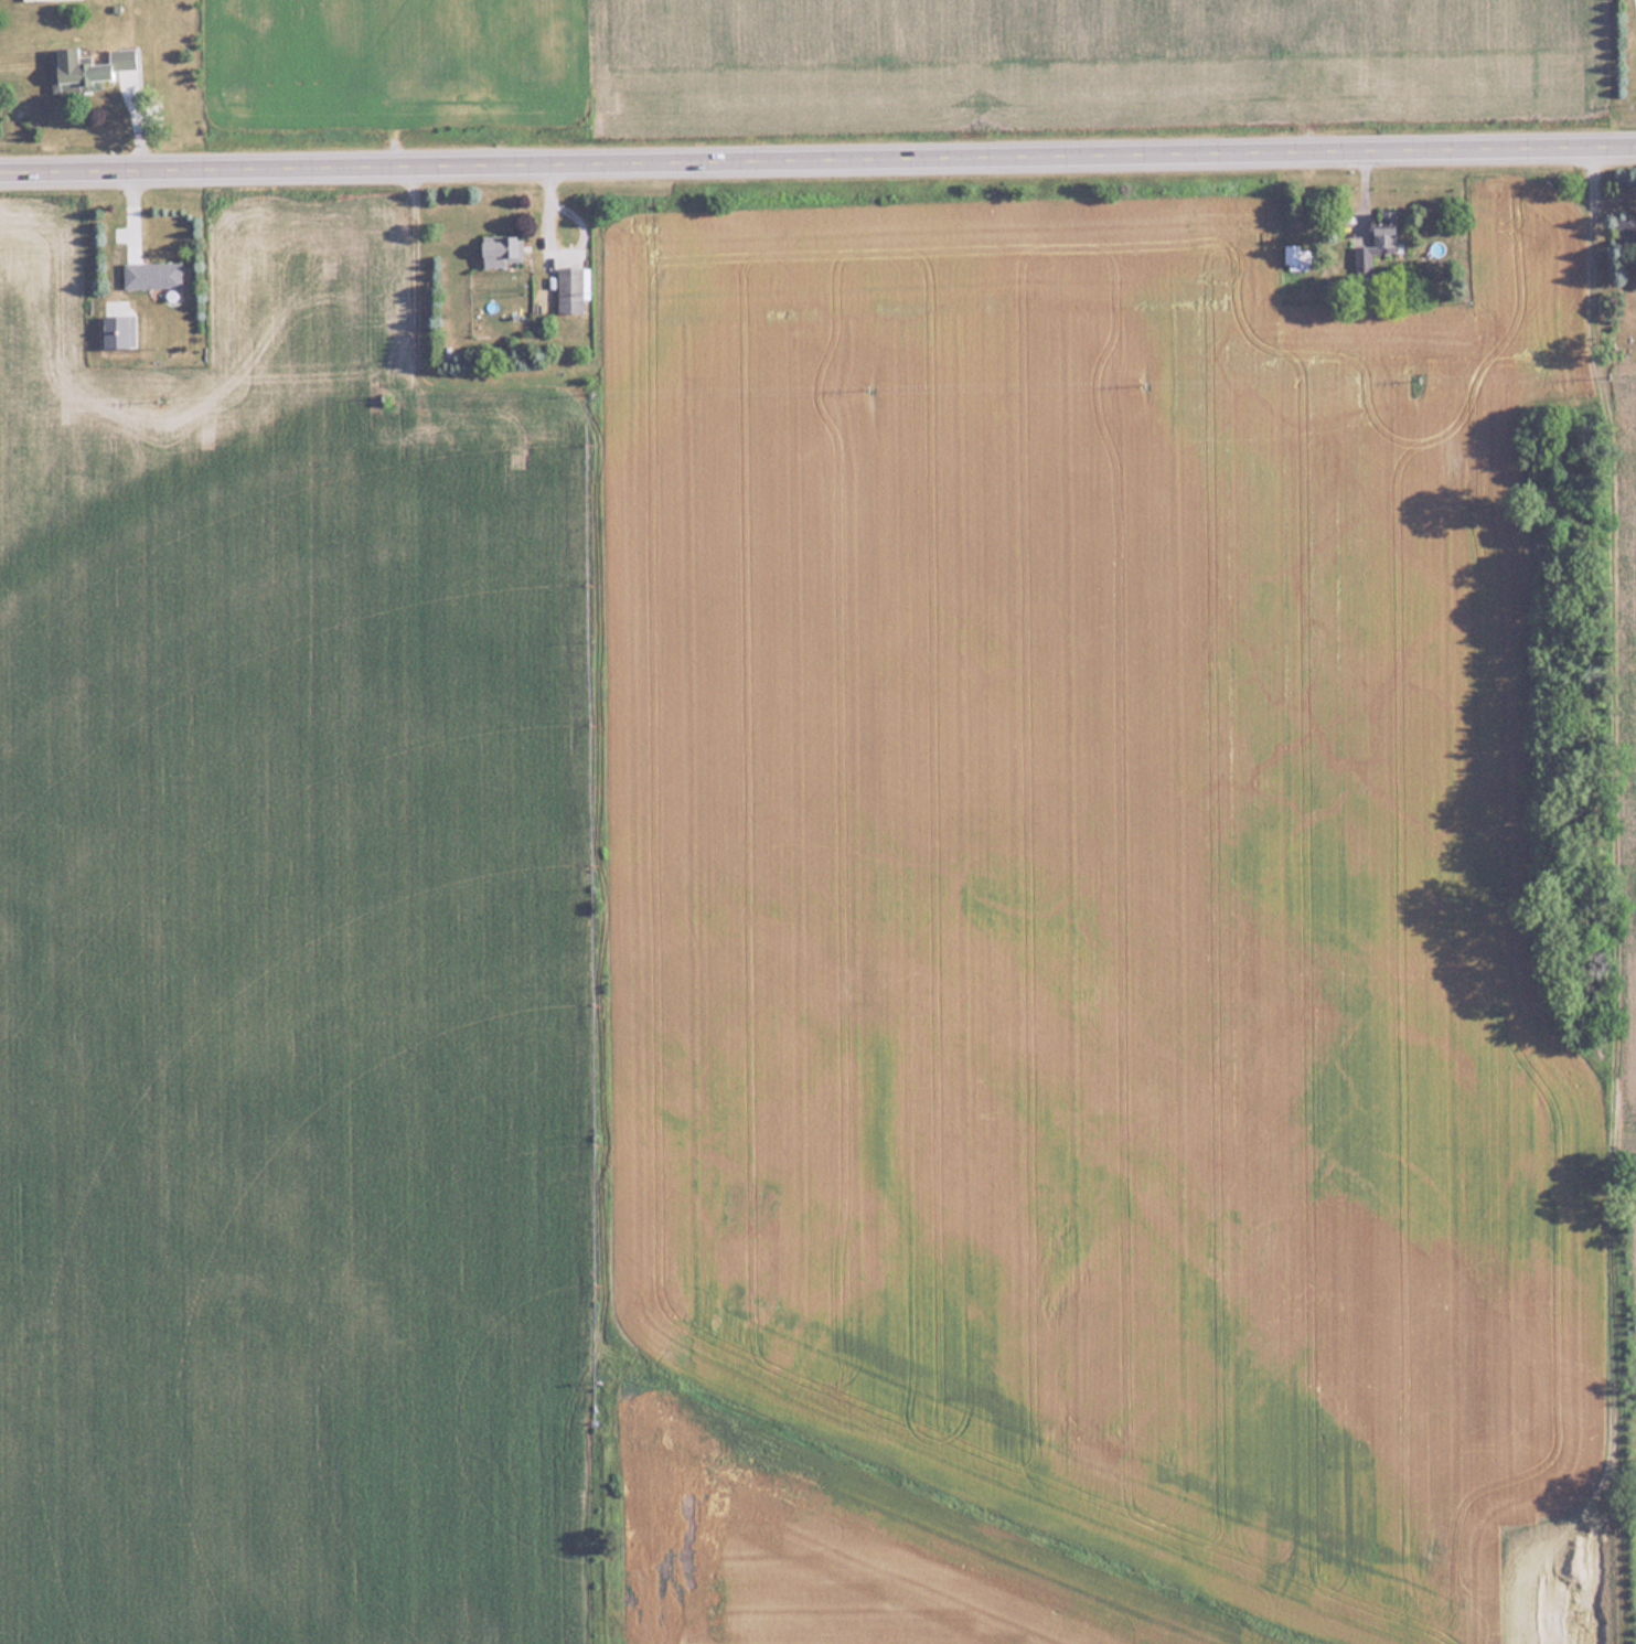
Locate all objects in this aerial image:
building: (88, 65)
road: (817, 152)
building: (1626, 228)
building: (503, 249)
building: (1378, 254)
building: (1302, 256)
building: (152, 275)
building: (570, 289)

